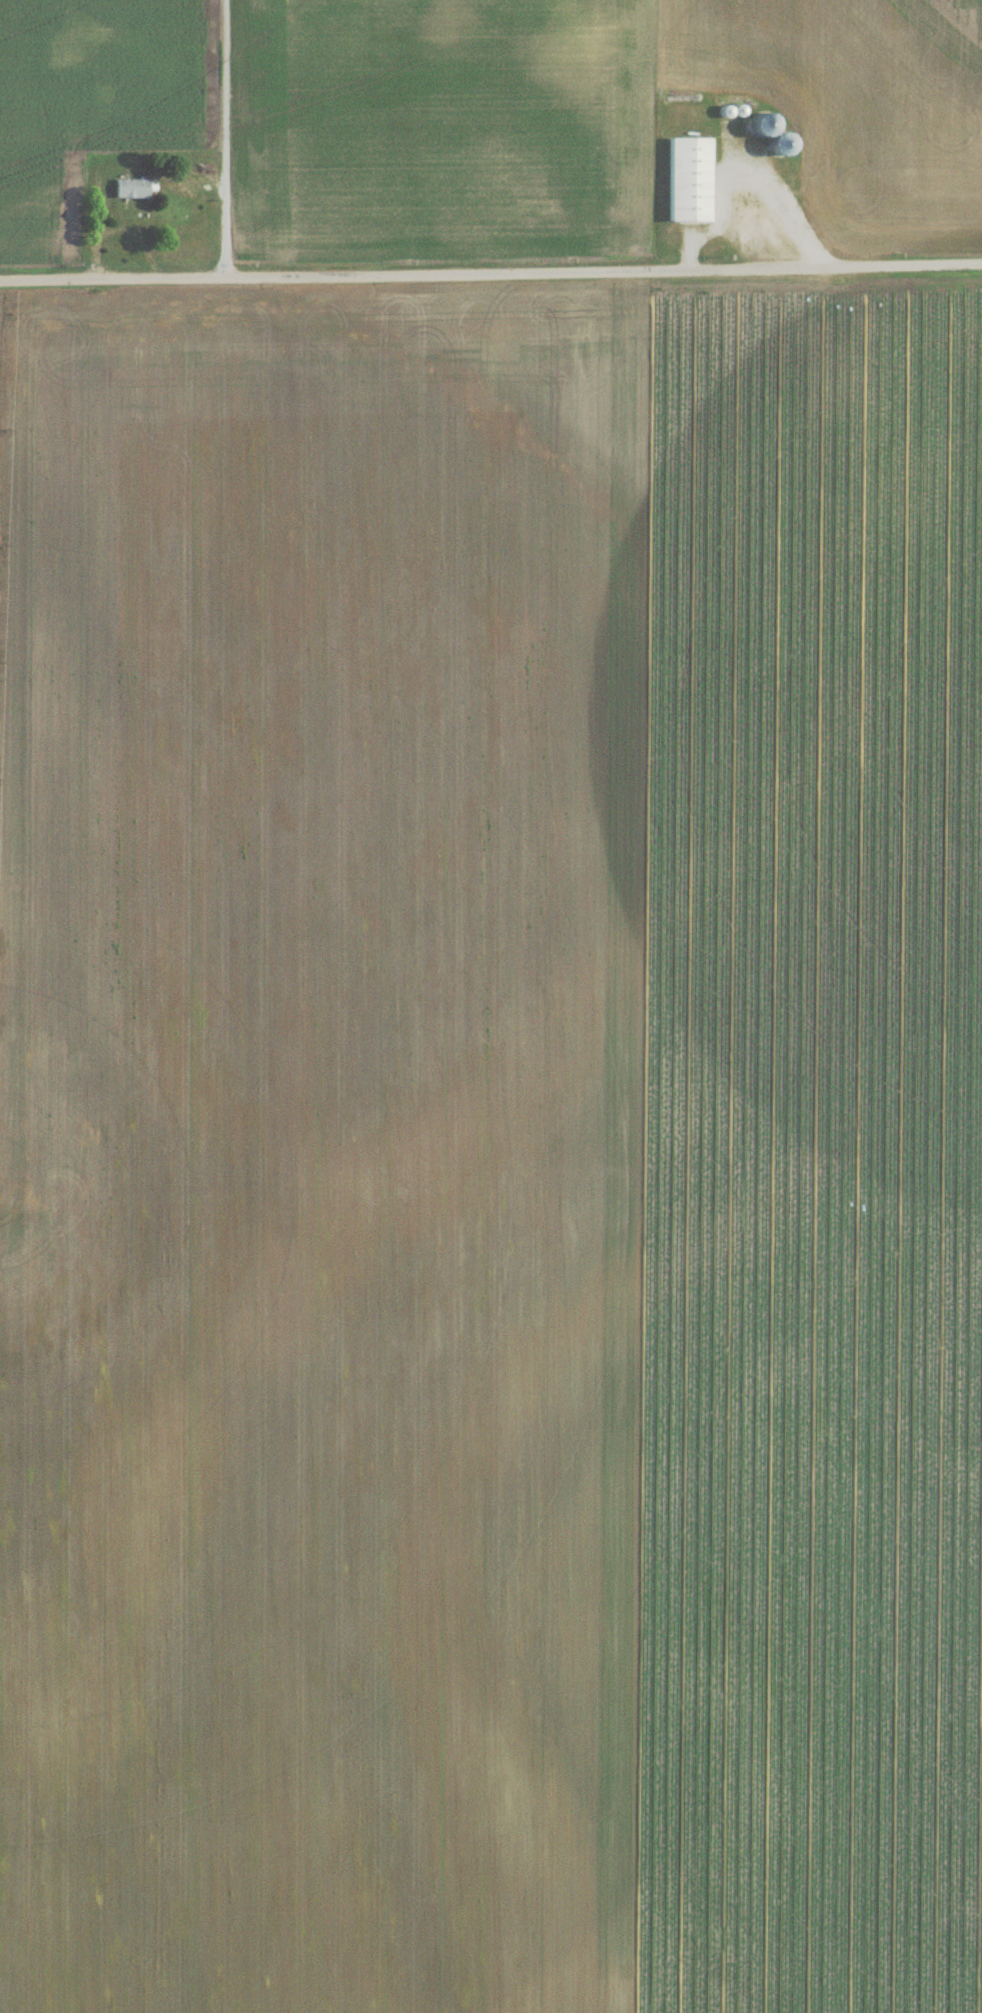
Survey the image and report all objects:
road: (225, 138)
building: (687, 188)
building: (130, 197)
road: (491, 271)

